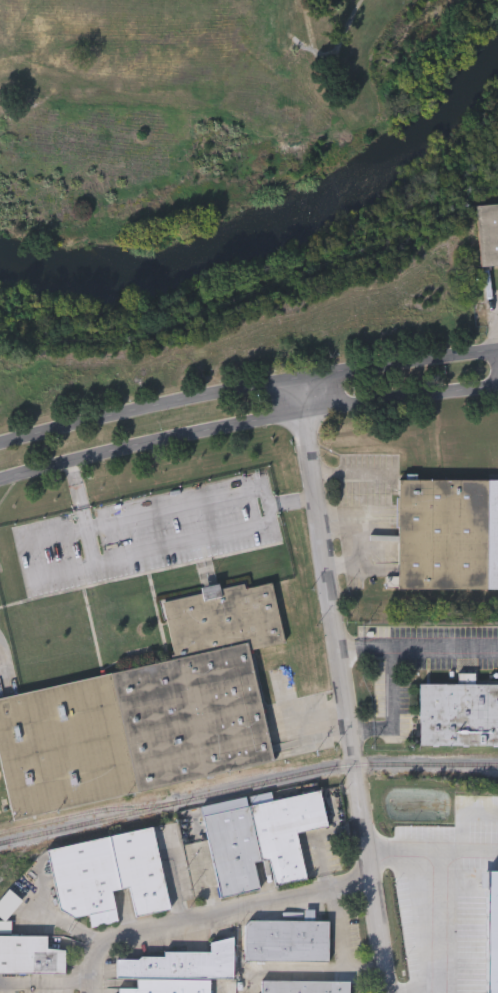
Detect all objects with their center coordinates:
building: (488, 234)
road: (495, 329)
road: (246, 386)
road: (246, 422)
road: (352, 473)
road: (292, 502)
road: (269, 506)
road: (84, 514)
building: (448, 534)
road: (354, 541)
road: (375, 551)
road: (446, 646)
road: (367, 647)
road: (342, 664)
road: (395, 707)
building: (149, 710)
building: (458, 714)
railway: (246, 788)
railway: (86, 813)
building: (261, 841)
building: (109, 875)
road: (230, 918)
building: (286, 941)
building: (30, 959)
road: (383, 972)
road: (327, 975)
road: (92, 980)
building: (163, 986)
building: (305, 987)
road: (400, 989)

